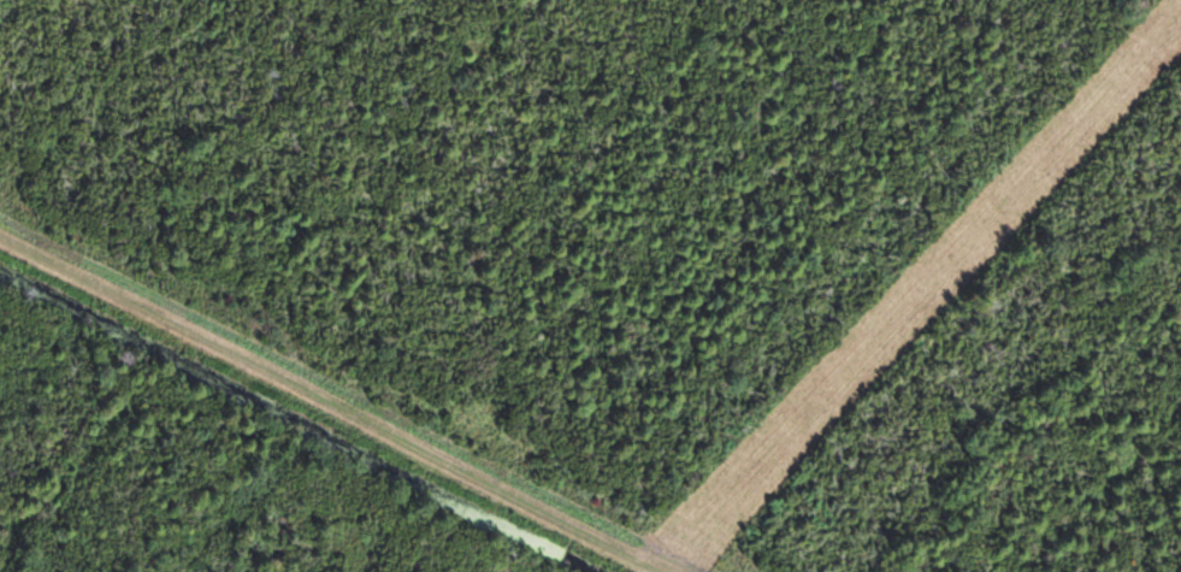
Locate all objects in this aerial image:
road: (330, 401)

